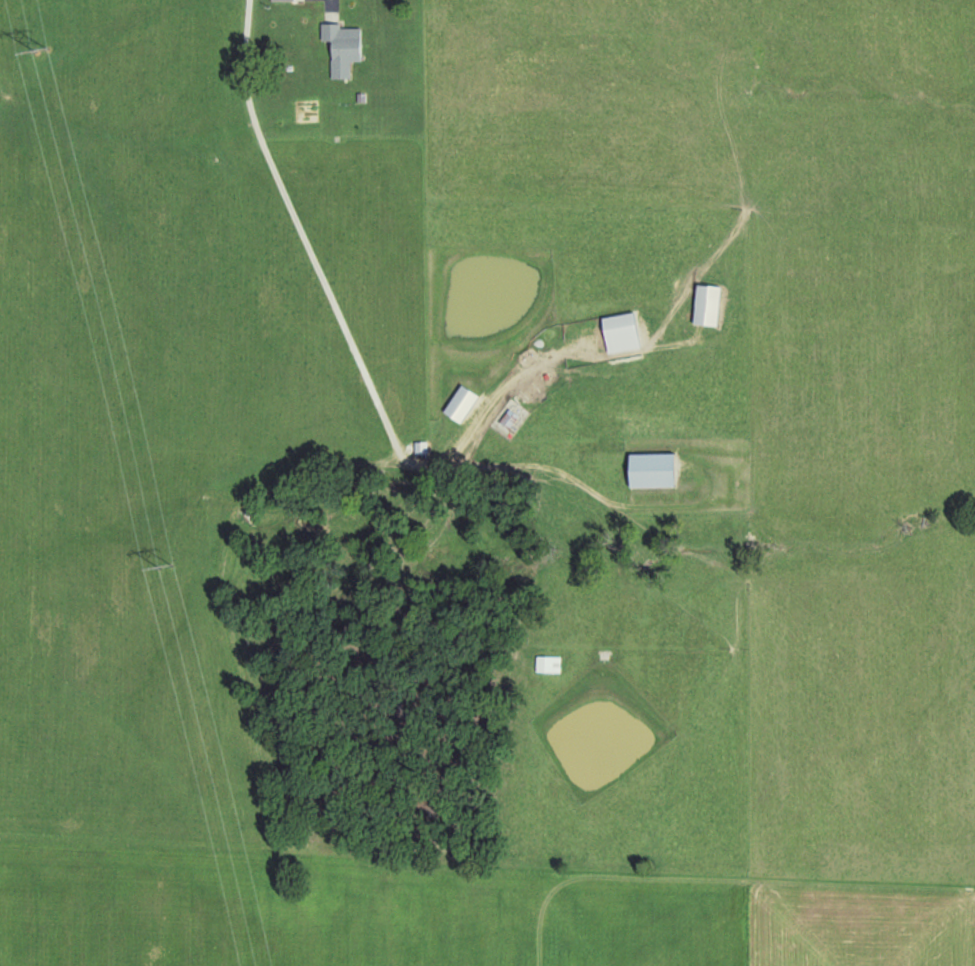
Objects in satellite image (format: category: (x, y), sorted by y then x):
building: (287, 1)
power tower: (41, 45)
building: (346, 47)
road: (302, 234)
building: (711, 304)
building: (625, 332)
building: (466, 402)
building: (658, 469)
power tower: (164, 565)
building: (550, 662)

